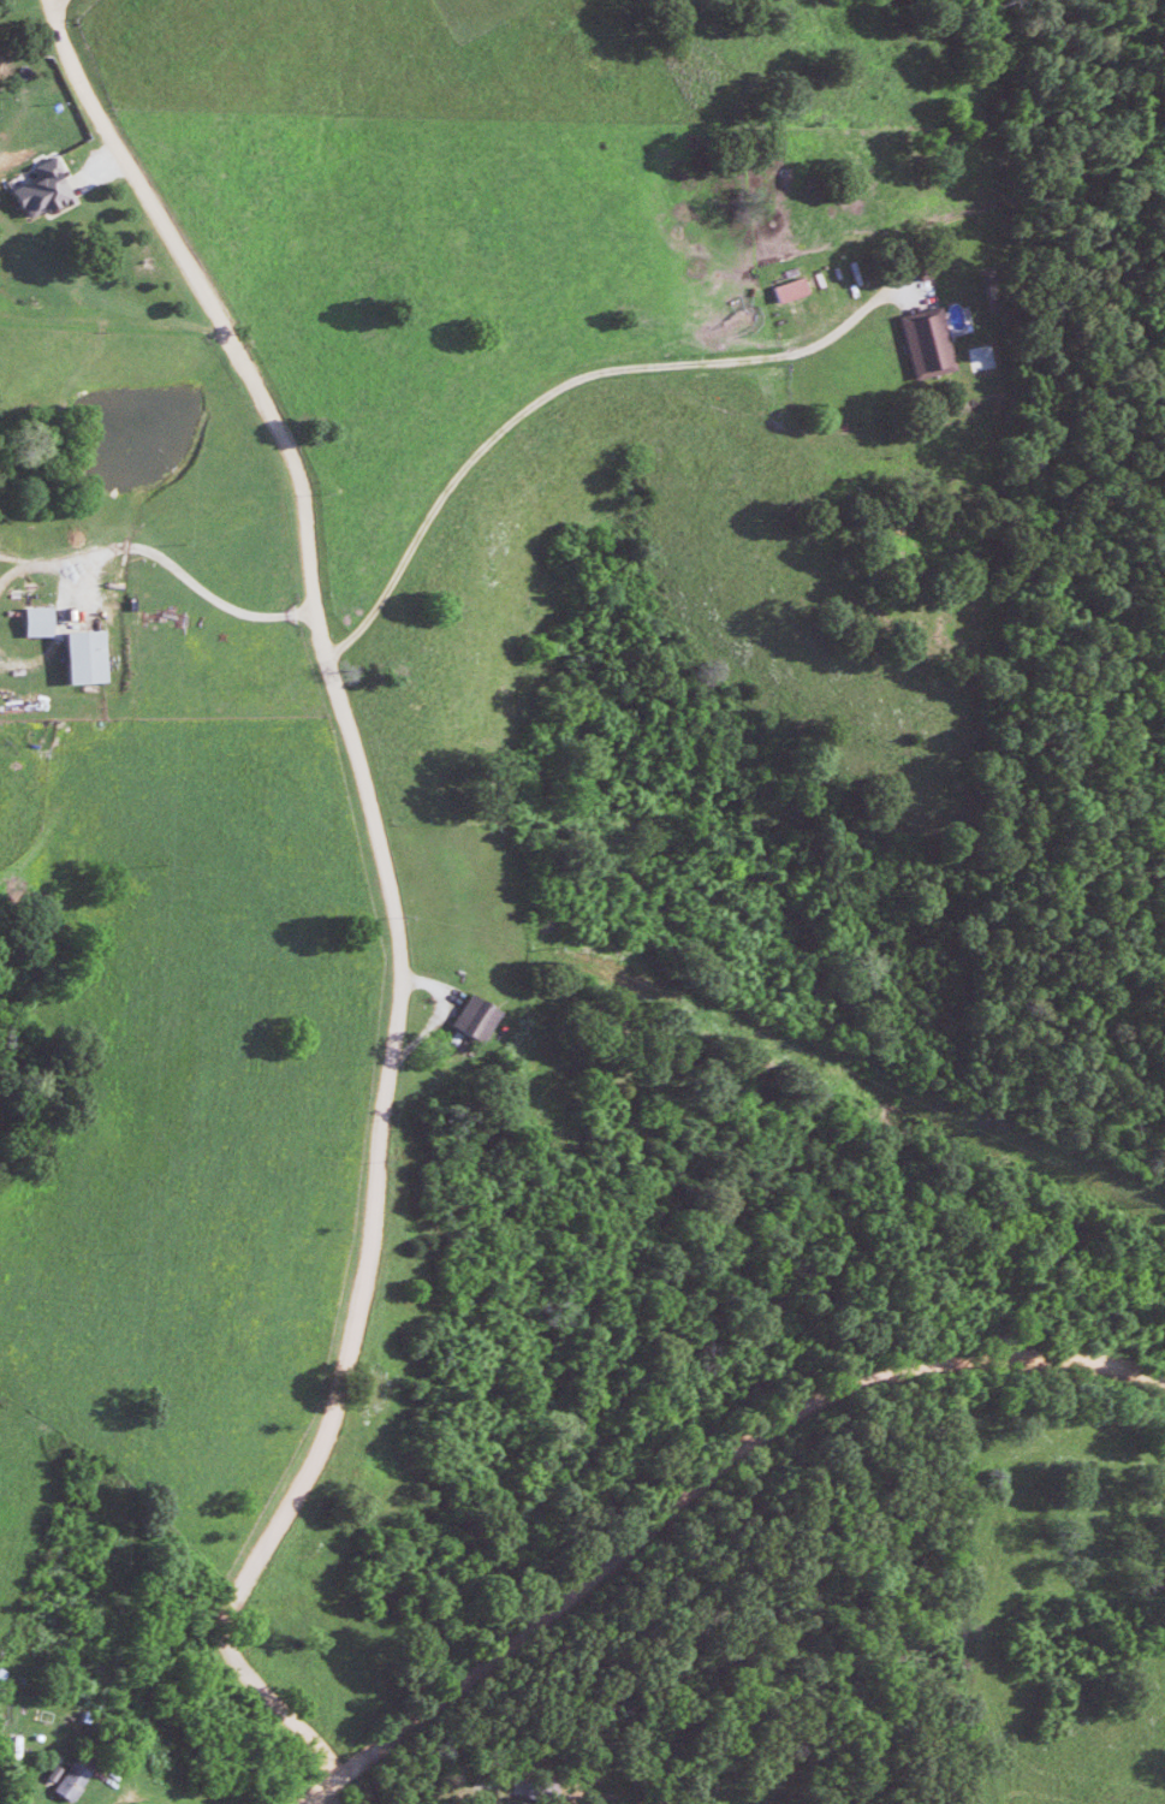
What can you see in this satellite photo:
road: (50, 1)
road: (52, 1)
building: (32, 190)
building: (779, 290)
building: (917, 343)
road: (564, 380)
road: (174, 574)
building: (28, 622)
building: (72, 658)
road: (390, 889)
building: (463, 1017)
road: (697, 1488)
building: (61, 1781)

